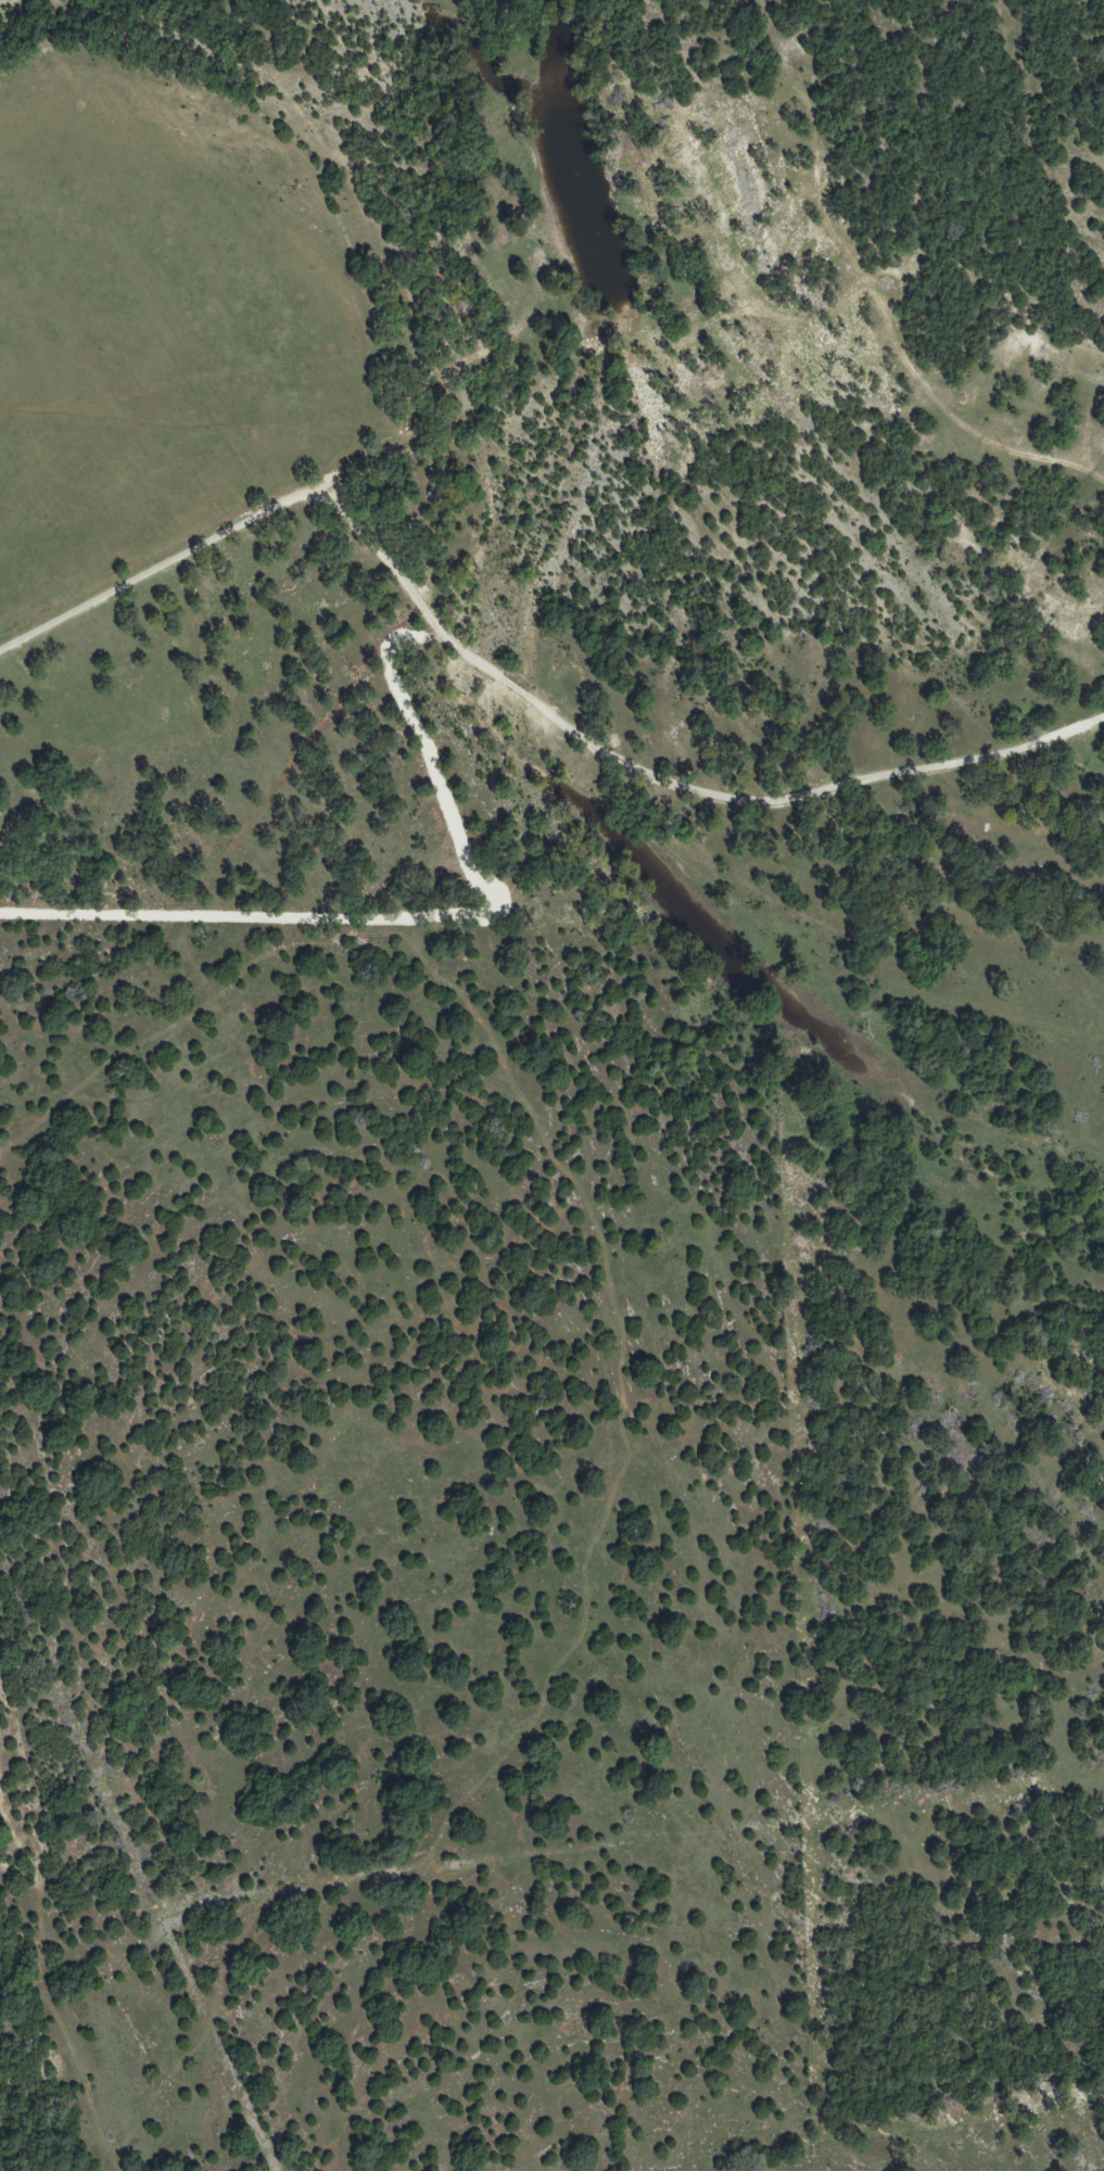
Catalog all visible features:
road: (512, 691)

